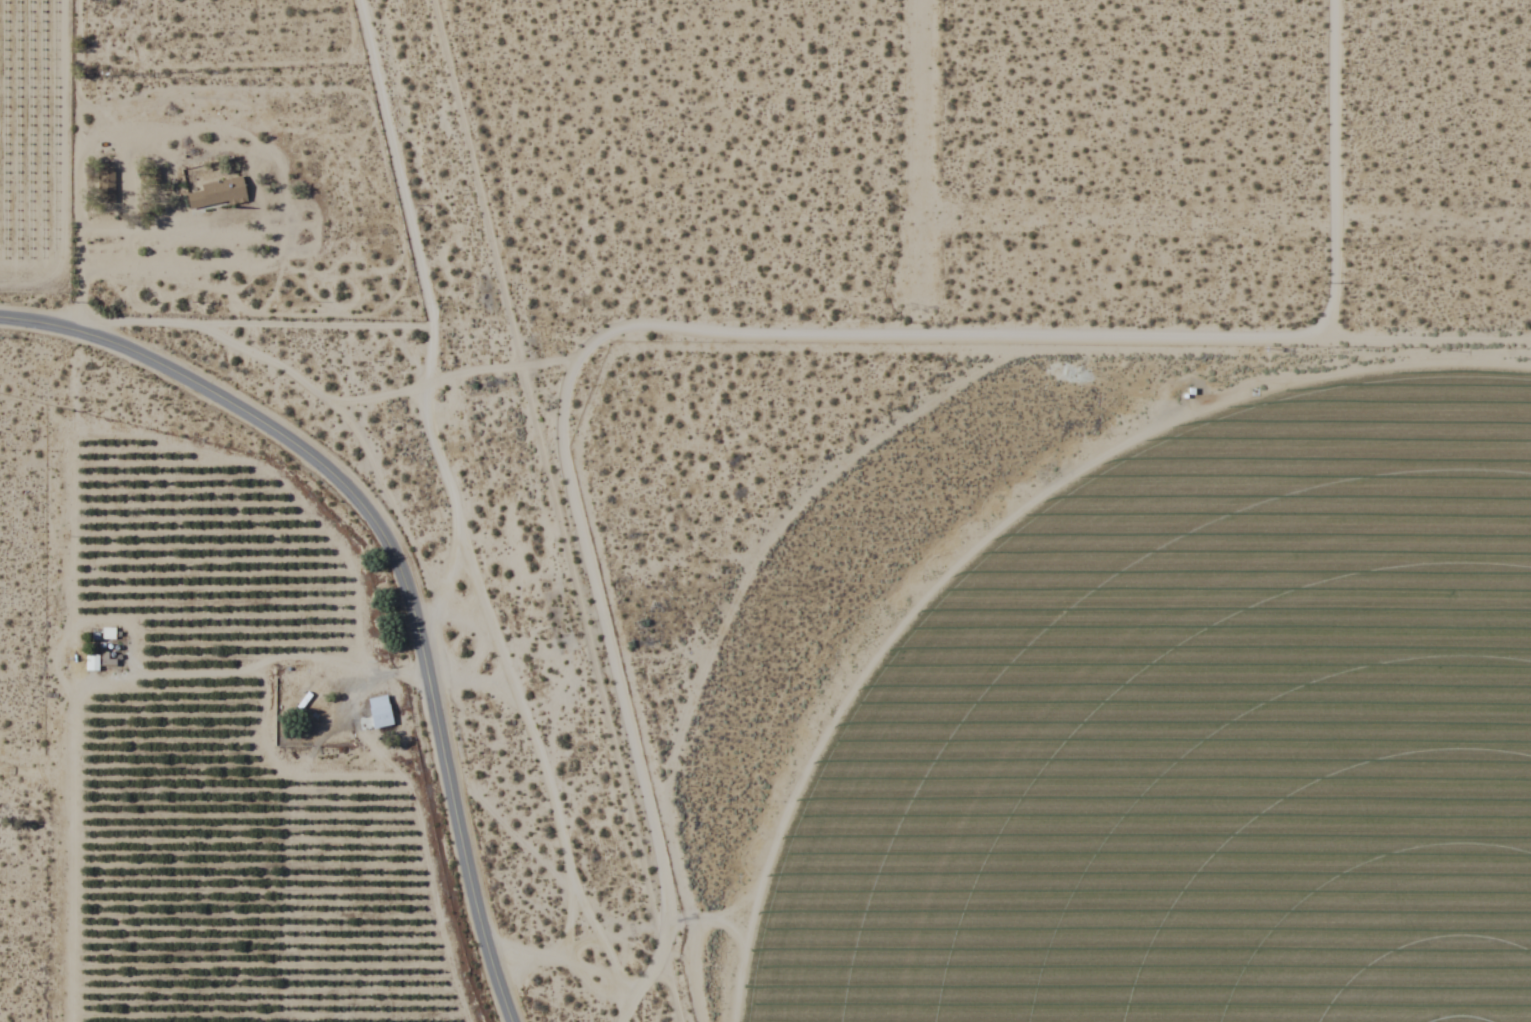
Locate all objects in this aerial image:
road: (1334, 173)
building: (105, 185)
building: (217, 193)
road: (415, 249)
road: (1, 321)
road: (218, 327)
road: (966, 344)
road: (256, 423)
road: (448, 568)
building: (92, 662)
building: (379, 711)
road: (523, 721)
crop: (1187, 736)
road: (460, 829)
road: (585, 945)

